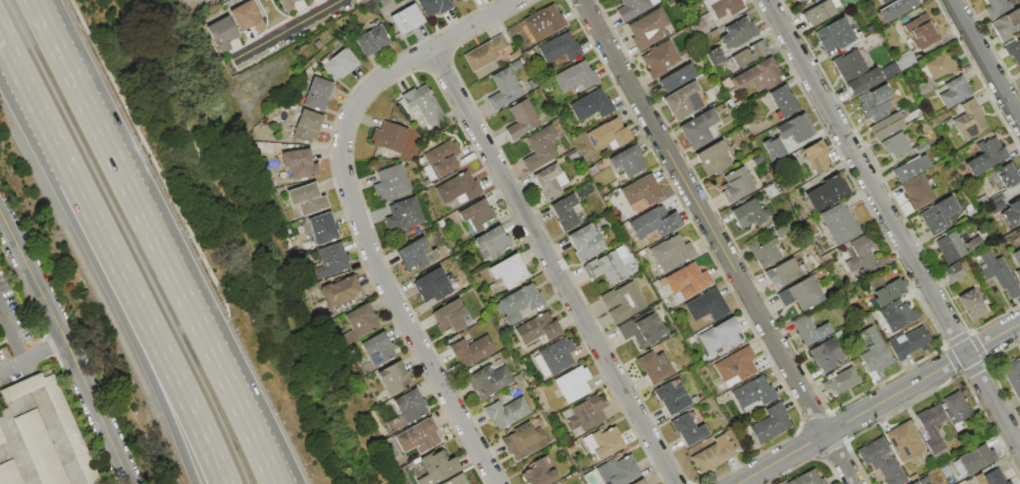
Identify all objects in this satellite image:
building: (456, 0)
building: (795, 0)
building: (799, 0)
building: (882, 0)
power substation: (200, 2)
building: (287, 4)
building: (434, 6)
building: (723, 7)
building: (996, 7)
building: (633, 8)
building: (896, 9)
building: (818, 13)
building: (247, 17)
building: (406, 19)
building: (543, 23)
building: (1006, 24)
building: (700, 28)
road: (286, 29)
building: (647, 29)
building: (921, 32)
building: (222, 33)
building: (738, 33)
building: (834, 35)
building: (873, 36)
road: (50, 38)
road: (55, 38)
building: (371, 40)
building: (559, 47)
building: (1013, 50)
building: (484, 53)
building: (529, 53)
building: (750, 54)
building: (715, 56)
building: (659, 59)
building: (905, 61)
road: (985, 62)
building: (339, 64)
building: (515, 65)
building: (940, 65)
building: (855, 72)
building: (758, 76)
building: (576, 77)
building: (677, 77)
building: (531, 84)
building: (504, 89)
building: (954, 92)
building: (317, 93)
building: (683, 100)
building: (782, 101)
building: (422, 103)
building: (871, 104)
building: (592, 105)
building: (522, 119)
building: (969, 120)
building: (306, 126)
building: (885, 127)
building: (698, 128)
building: (794, 128)
building: (608, 135)
building: (389, 136)
road: (54, 142)
building: (894, 145)
building: (921, 147)
building: (540, 148)
building: (773, 148)
building: (816, 156)
building: (986, 156)
building: (713, 158)
building: (440, 159)
building: (628, 160)
building: (299, 163)
building: (910, 167)
building: (1007, 174)
building: (549, 181)
building: (390, 182)
building: (736, 184)
road: (126, 186)
building: (458, 188)
building: (642, 190)
building: (917, 191)
building: (825, 192)
building: (996, 196)
building: (307, 198)
building: (982, 200)
building: (997, 207)
building: (477, 211)
building: (564, 211)
road: (354, 212)
building: (1012, 212)
building: (748, 213)
building: (938, 214)
building: (402, 217)
building: (654, 222)
building: (838, 223)
road: (892, 226)
building: (323, 228)
building: (492, 241)
road: (716, 241)
building: (585, 242)
building: (973, 242)
building: (950, 247)
building: (670, 252)
building: (764, 252)
building: (416, 254)
building: (863, 257)
building: (1017, 257)
building: (331, 260)
road: (551, 266)
building: (607, 266)
building: (508, 270)
building: (781, 273)
building: (953, 273)
building: (998, 273)
building: (1018, 274)
building: (688, 280)
building: (430, 284)
building: (885, 290)
building: (340, 291)
building: (801, 294)
building: (622, 302)
building: (518, 303)
building: (706, 305)
building: (971, 305)
building: (897, 314)
building: (449, 316)
building: (360, 322)
building: (537, 328)
building: (642, 328)
building: (810, 329)
road: (13, 334)
building: (720, 336)
building: (909, 343)
road: (68, 344)
building: (378, 348)
building: (471, 350)
building: (873, 350)
road: (34, 355)
building: (825, 355)
building: (554, 356)
road: (167, 364)
road: (151, 366)
building: (653, 366)
building: (735, 366)
road: (28, 367)
building: (1012, 376)
building: (394, 378)
building: (488, 379)
building: (841, 381)
road: (32, 382)
building: (572, 384)
road: (229, 389)
road: (242, 389)
road: (36, 392)
building: (753, 392)
building: (671, 397)
road: (38, 398)
road: (877, 402)
building: (410, 406)
building: (954, 409)
building: (506, 412)
building: (586, 413)
building: (54, 418)
building: (770, 423)
building: (930, 428)
building: (687, 429)
building: (418, 436)
building: (0, 440)
building: (903, 440)
building: (523, 441)
building: (602, 443)
building: (38, 449)
building: (712, 455)
building: (974, 458)
building: (880, 461)
building: (437, 467)
building: (540, 471)
building: (617, 471)
building: (8, 473)
building: (990, 477)
building: (806, 478)
building: (457, 480)
building: (638, 481)
building: (914, 483)

